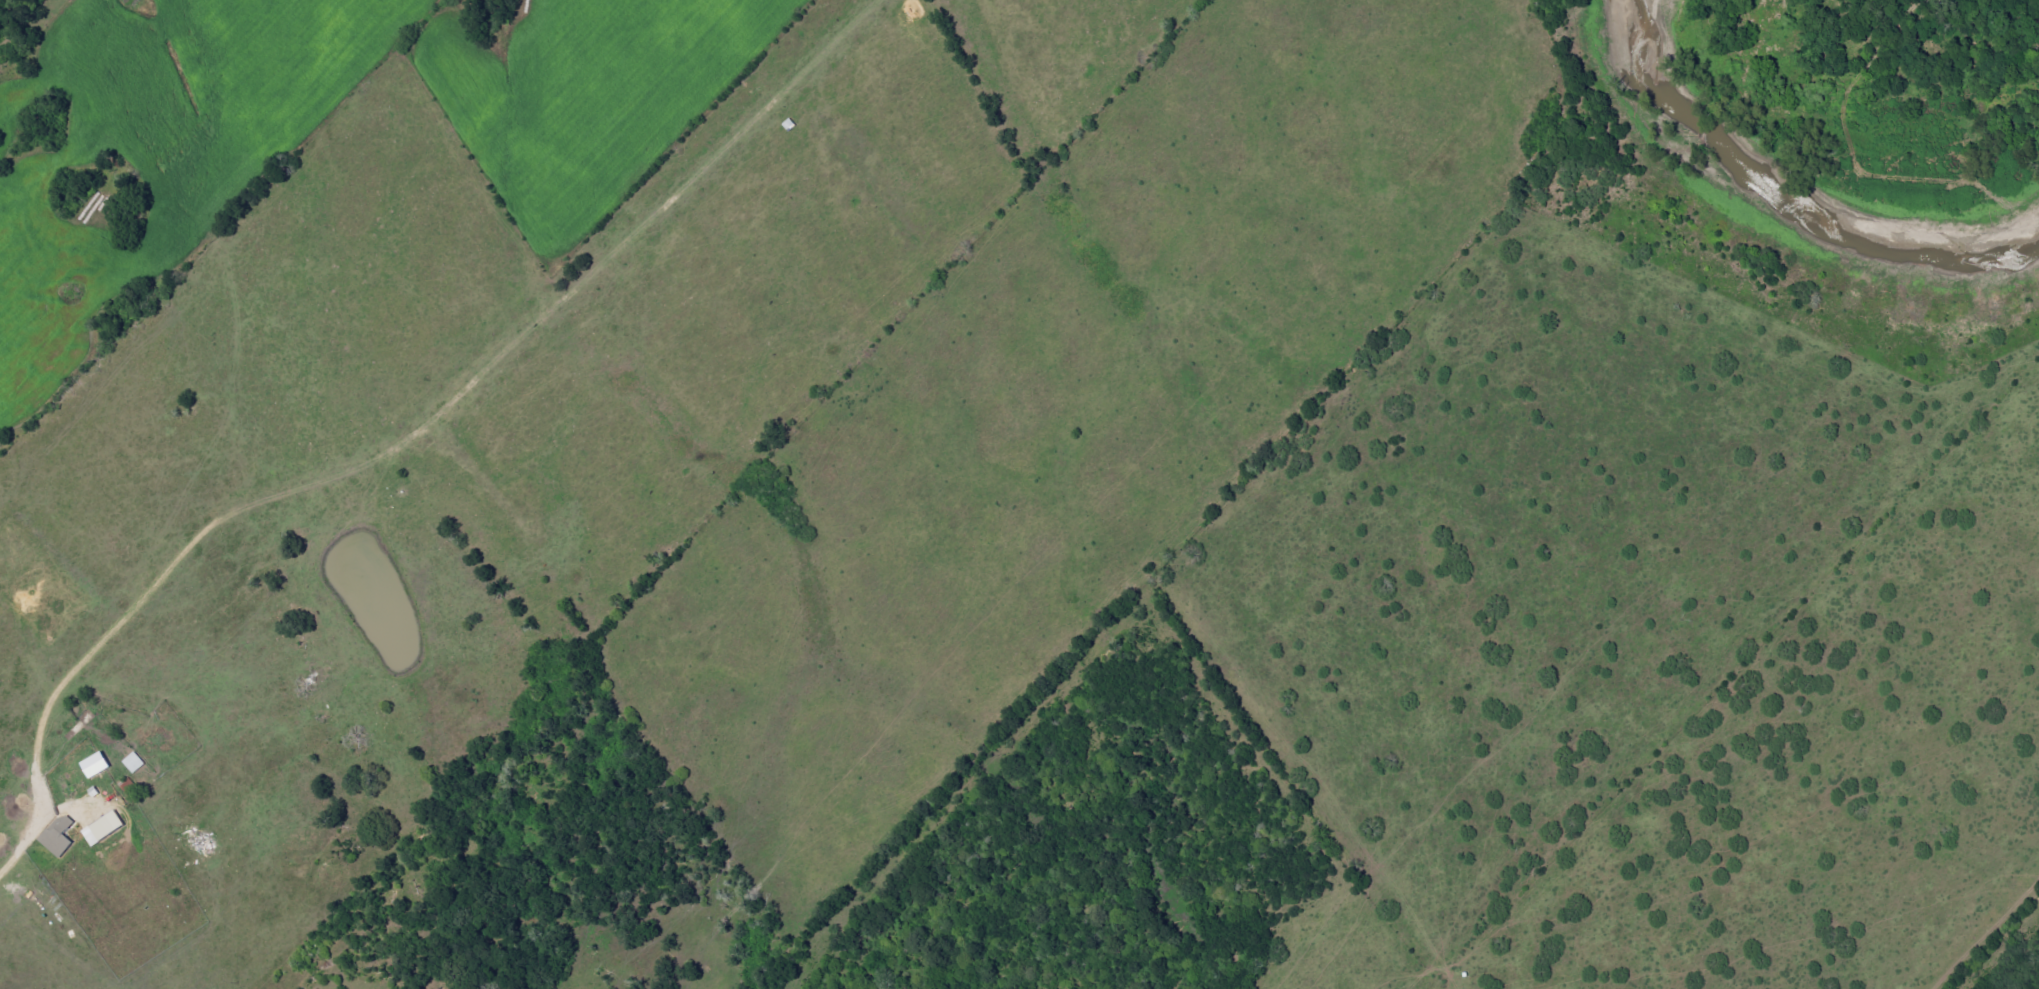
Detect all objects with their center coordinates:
building: (136, 762)
building: (97, 764)
building: (106, 827)
building: (60, 836)
road: (185, 975)

